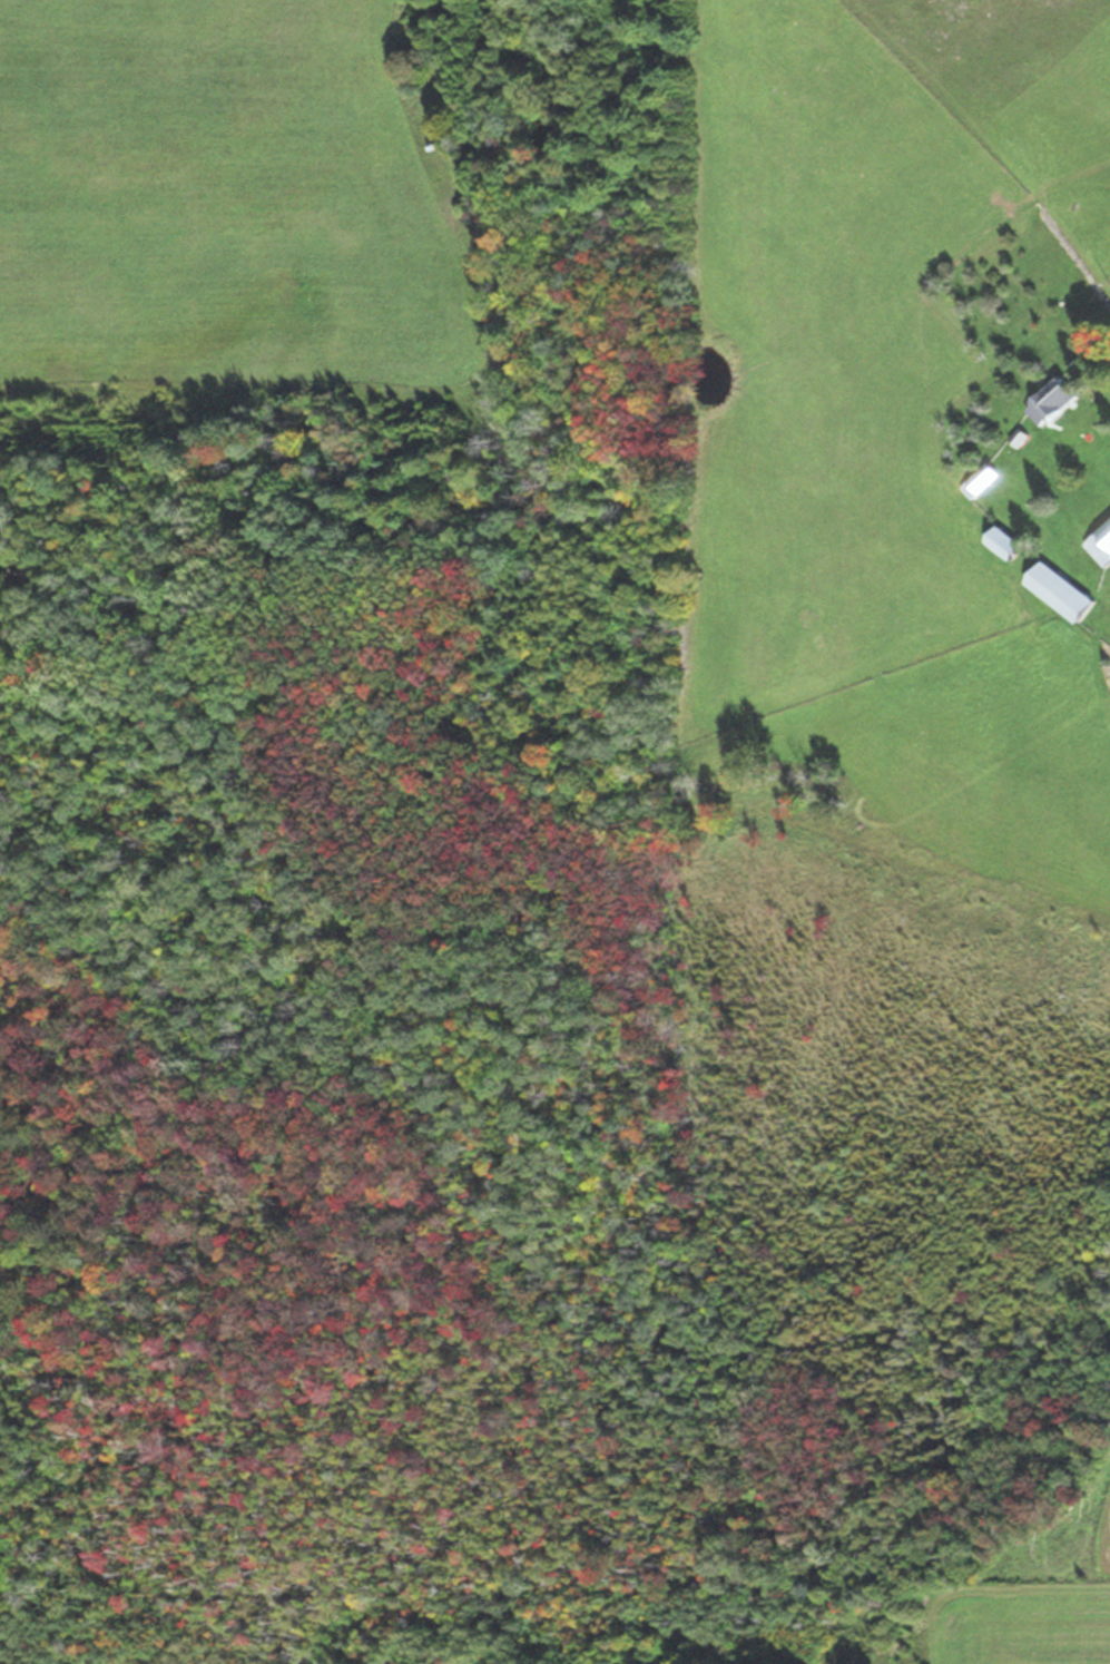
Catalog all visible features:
building: (1050, 402)
building: (979, 480)
building: (1002, 542)
building: (1100, 545)
building: (1059, 591)

